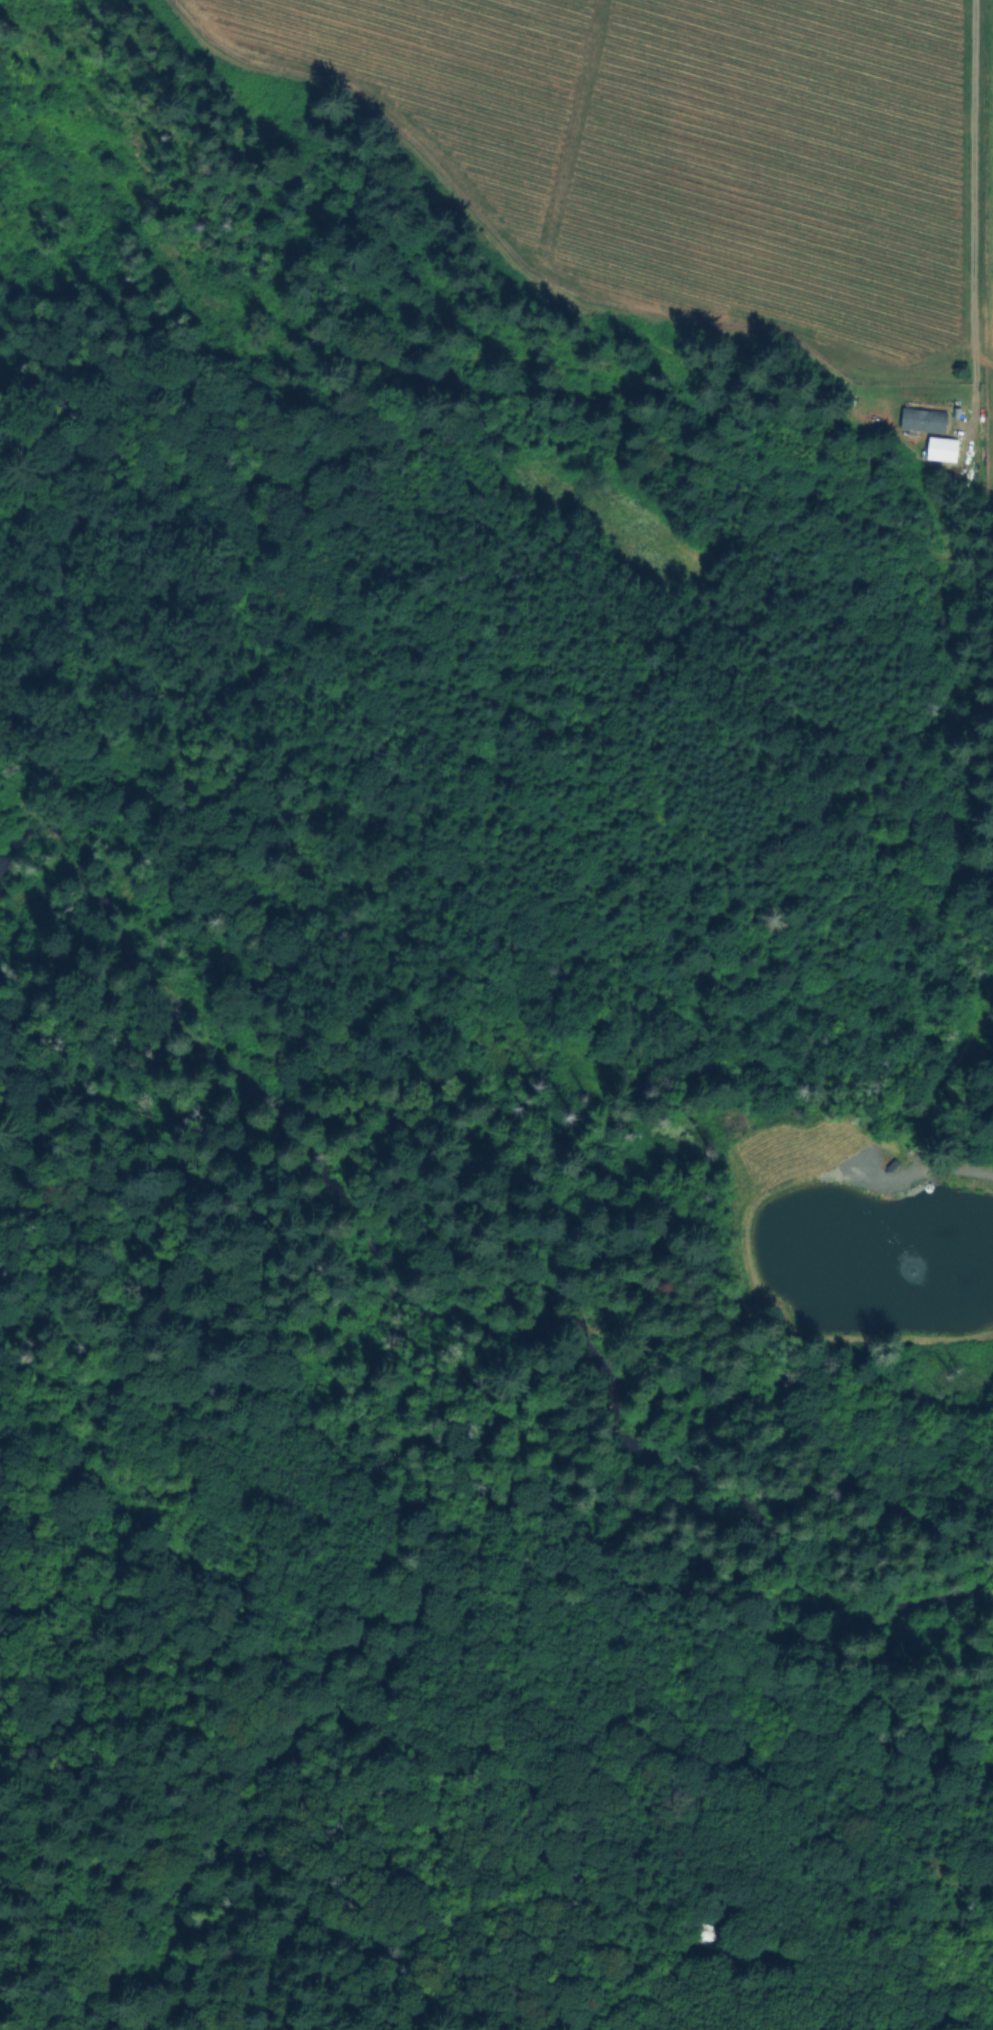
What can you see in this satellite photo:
road: (981, 213)
building: (924, 422)
building: (943, 449)
building: (710, 1937)

